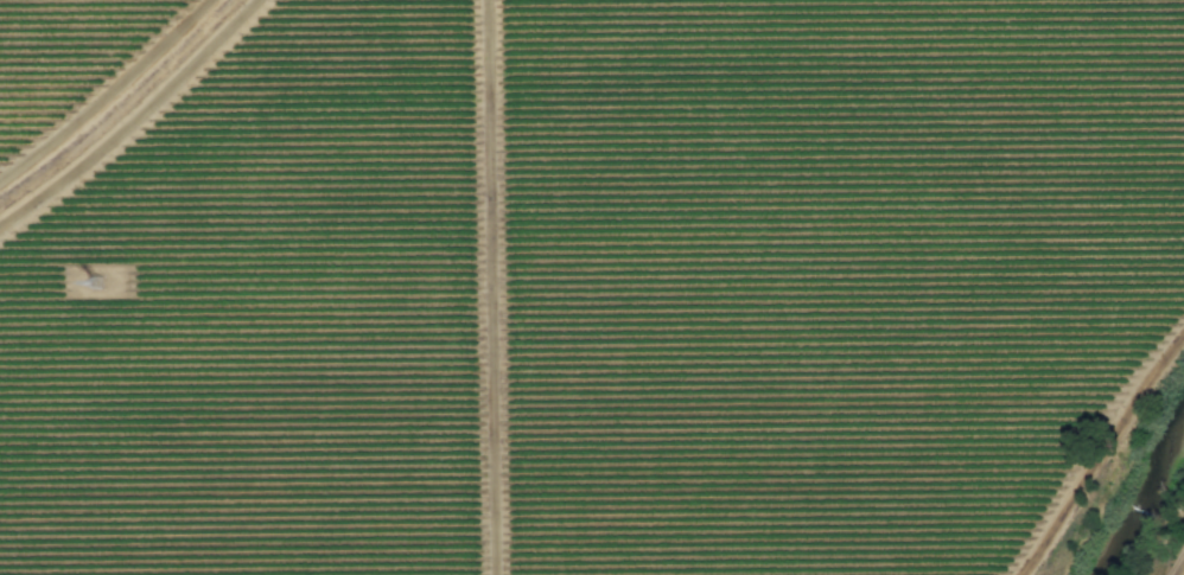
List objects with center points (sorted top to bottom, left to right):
power tower: (97, 285)
crop: (592, 288)

